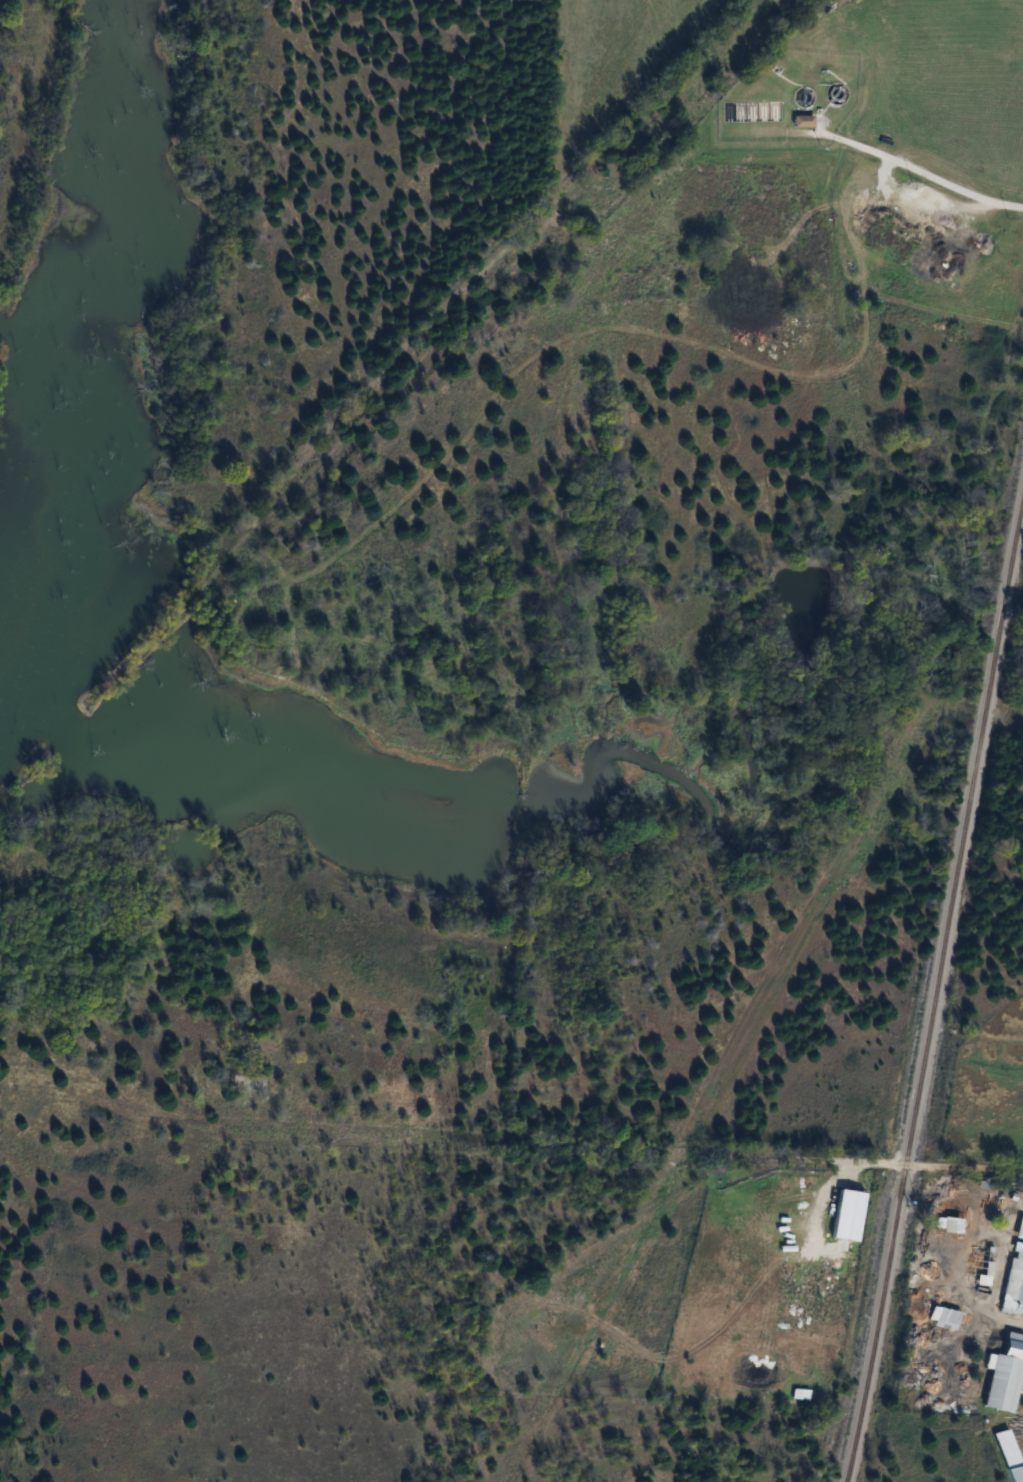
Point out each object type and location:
building: (803, 121)
road: (918, 168)
railway: (933, 975)
road: (872, 1160)
building: (844, 1209)
building: (1019, 1278)
building: (1002, 1368)
building: (800, 1393)
building: (1008, 1452)

